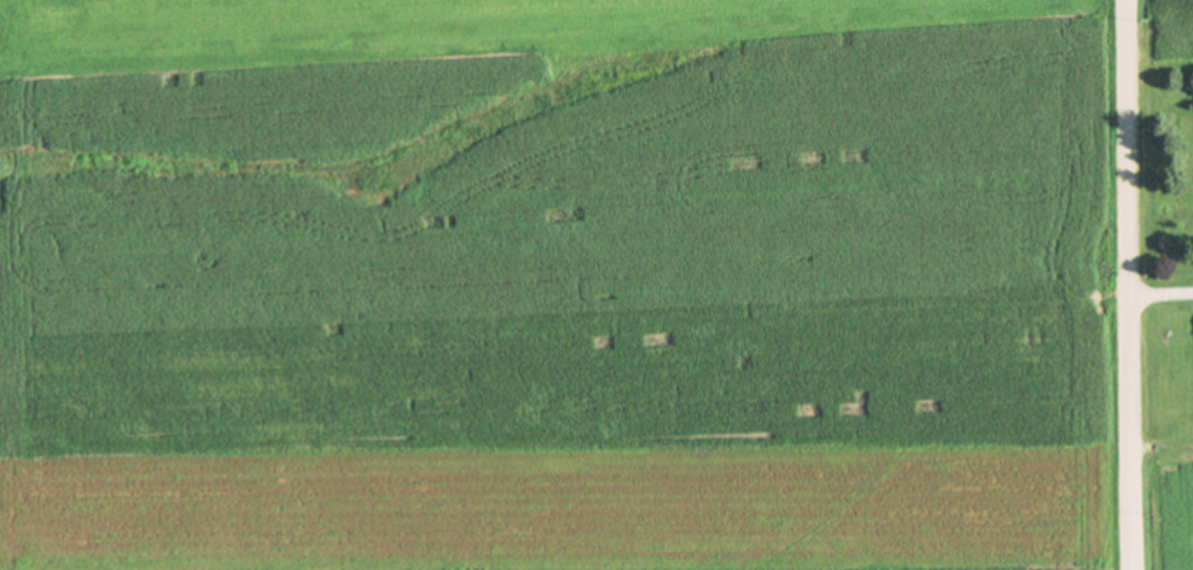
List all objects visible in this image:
road: (1136, 284)
road: (1165, 290)

